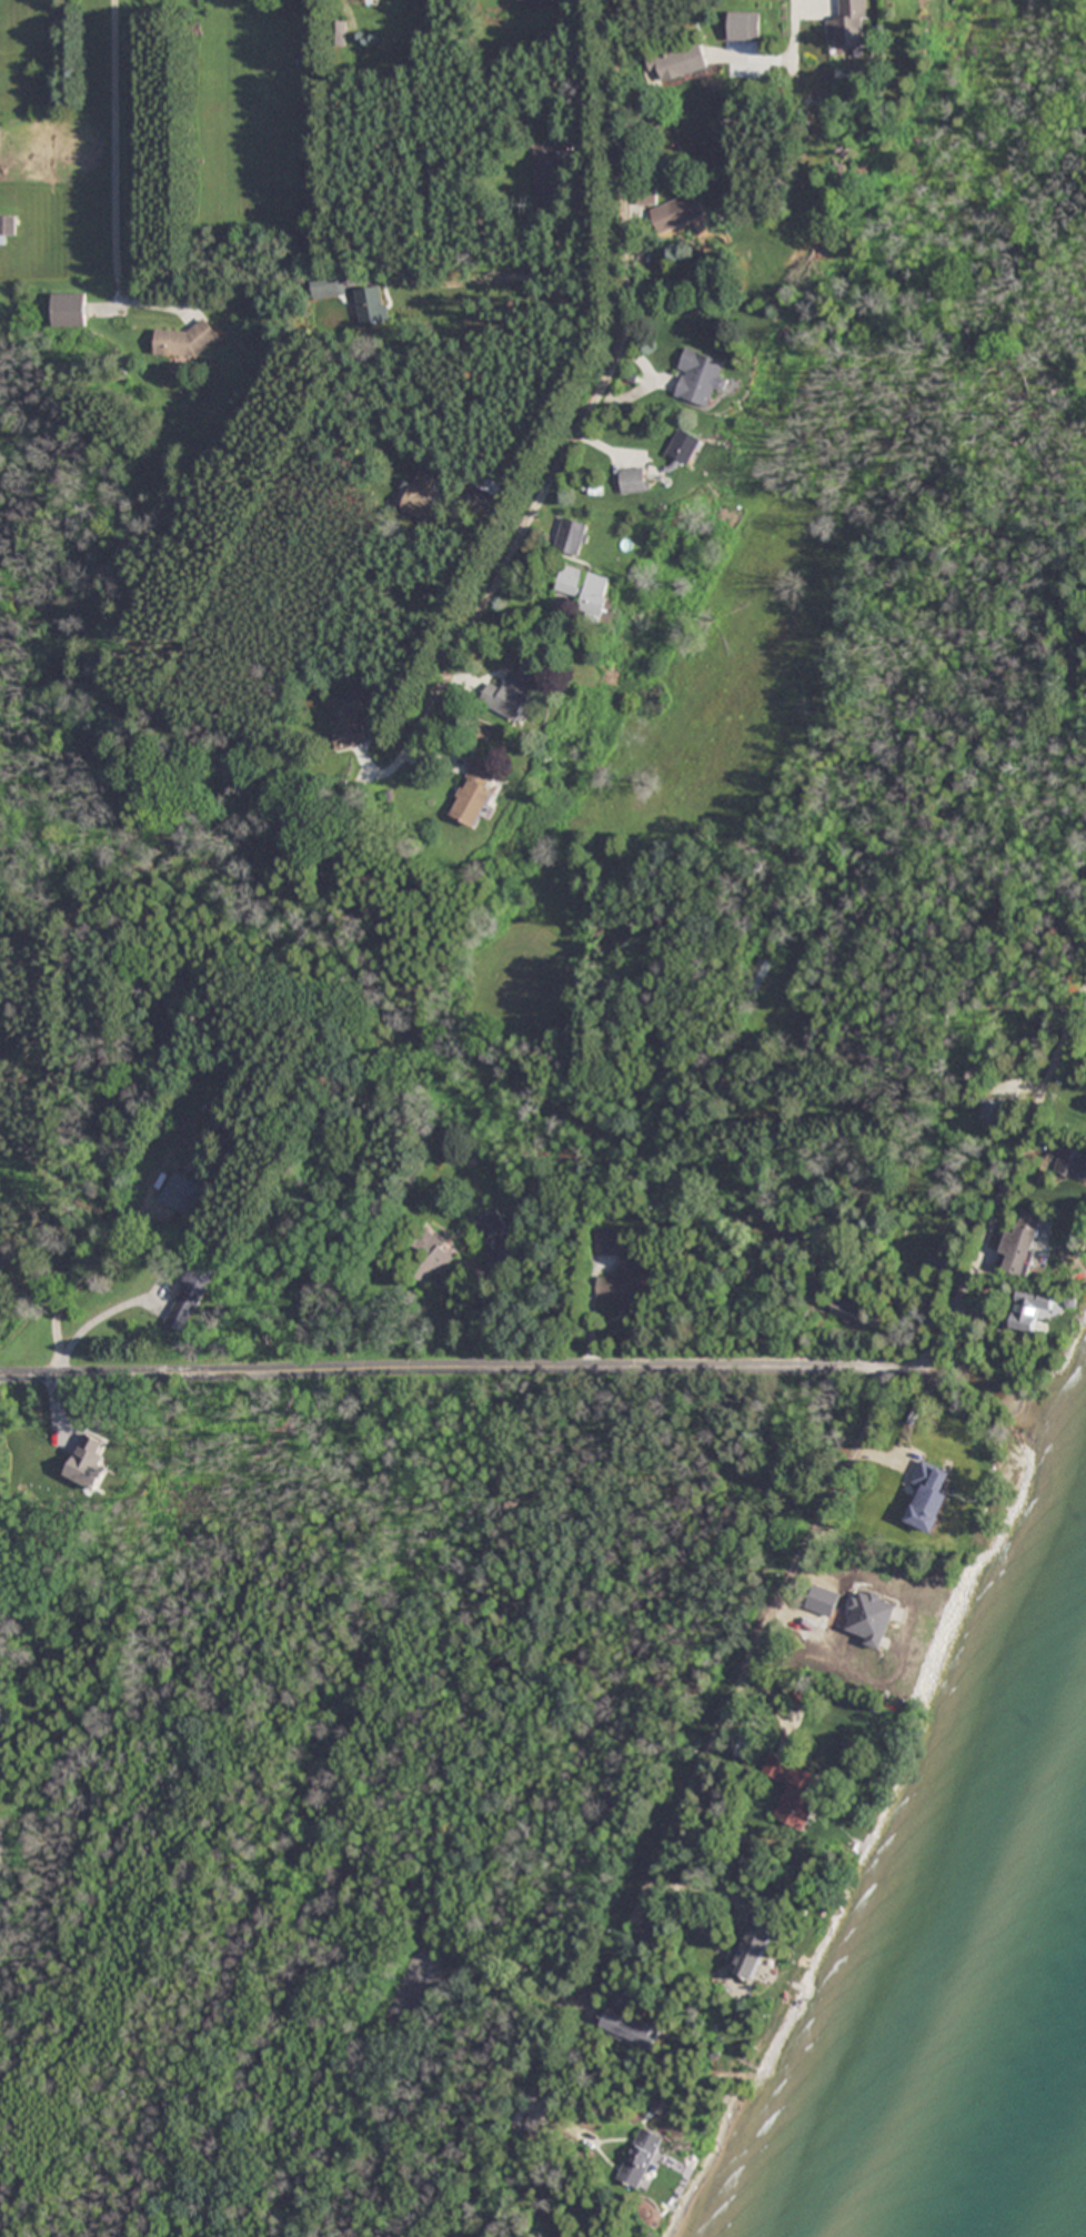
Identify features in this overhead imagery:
building: (536, 0)
building: (852, 23)
road: (795, 31)
building: (684, 62)
building: (647, 193)
building: (678, 211)
building: (8, 226)
building: (329, 284)
building: (371, 303)
building: (70, 309)
building: (185, 340)
building: (702, 376)
road: (591, 405)
building: (687, 445)
building: (640, 480)
building: (424, 494)
building: (582, 538)
building: (572, 580)
building: (600, 594)
building: (517, 693)
building: (348, 719)
building: (481, 789)
building: (755, 979)
building: (1073, 1163)
building: (184, 1192)
road: (1004, 1192)
building: (489, 1226)
building: (1025, 1247)
building: (434, 1251)
building: (625, 1279)
building: (193, 1297)
building: (1033, 1310)
road: (446, 1367)
road: (924, 1368)
building: (971, 1447)
road: (715, 1735)
building: (794, 1793)
building: (756, 1946)
building: (632, 2029)
building: (640, 2158)

